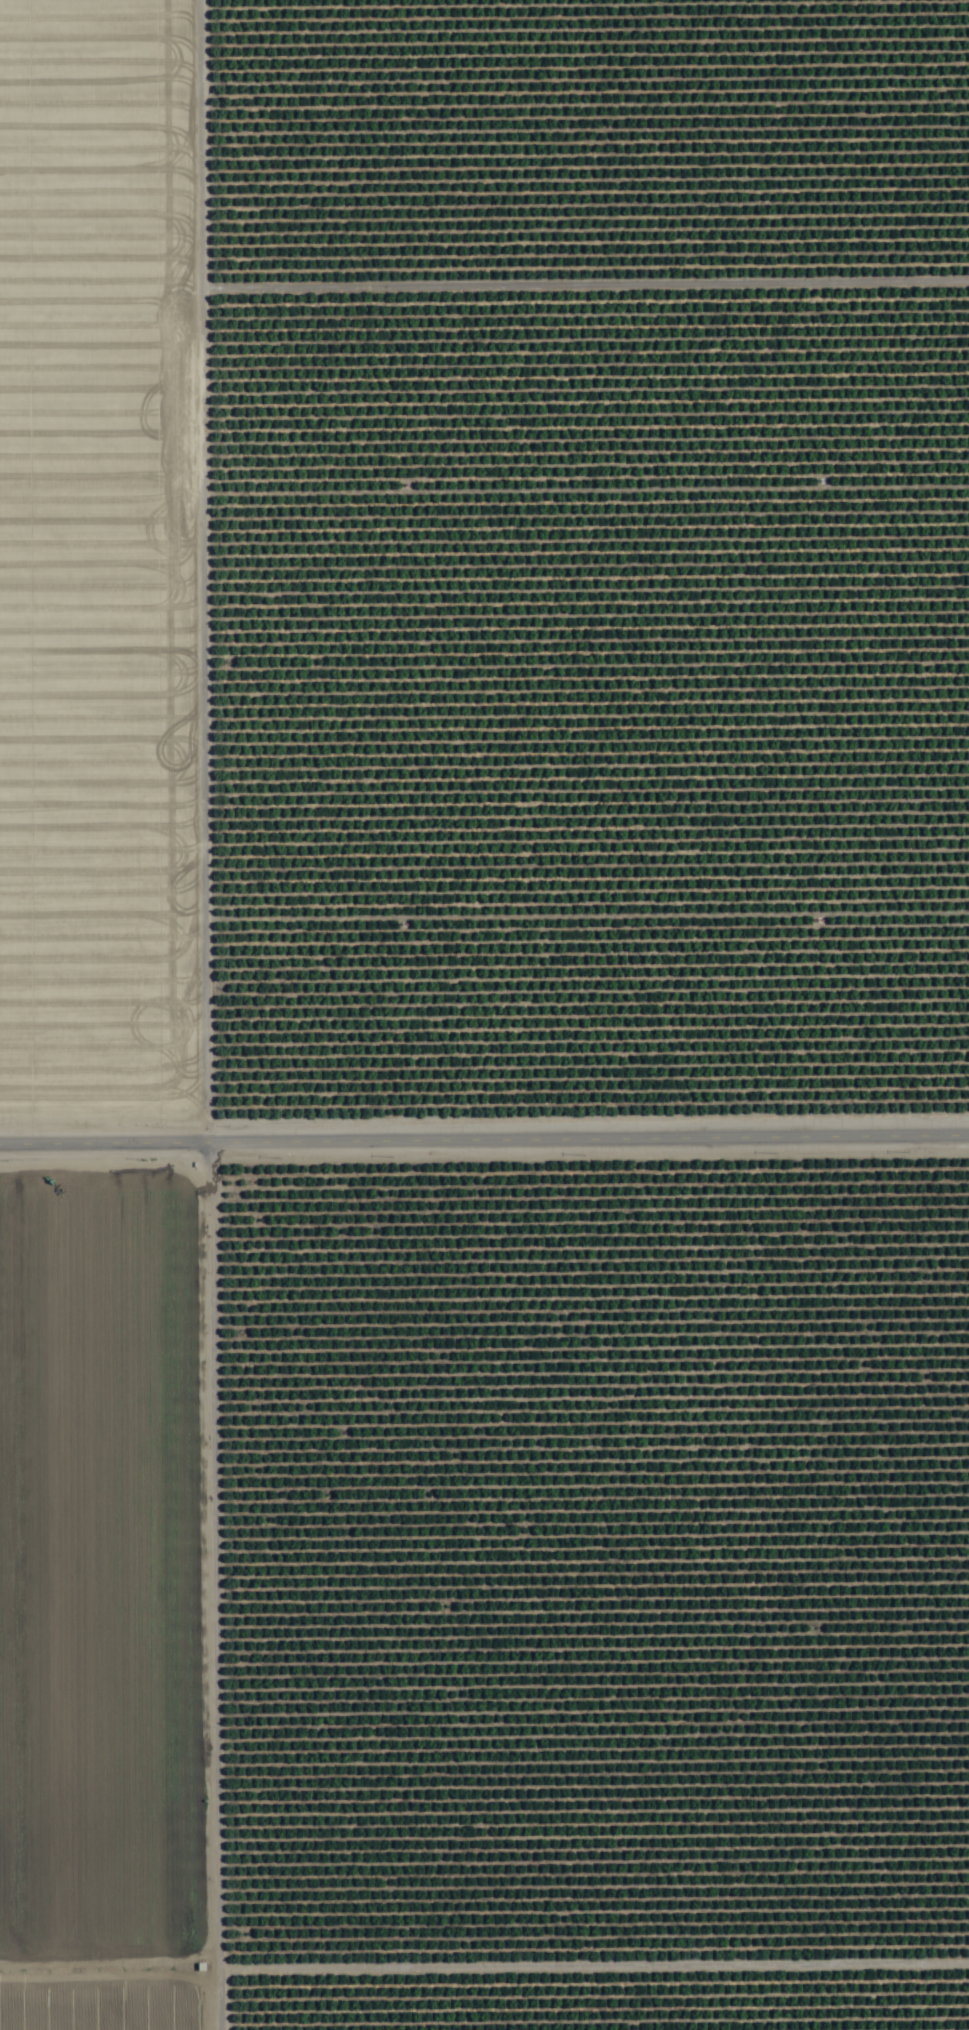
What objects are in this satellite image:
building: (631, 911)
road: (173, 1014)
crop: (484, 1015)
road: (484, 1124)
building: (652, 1271)
building: (368, 1281)
building: (292, 1350)
building: (818, 1367)
building: (909, 1380)
building: (320, 1400)
building: (482, 1518)
building: (334, 1647)
building: (322, 1690)
building: (770, 1795)
building: (503, 1968)

